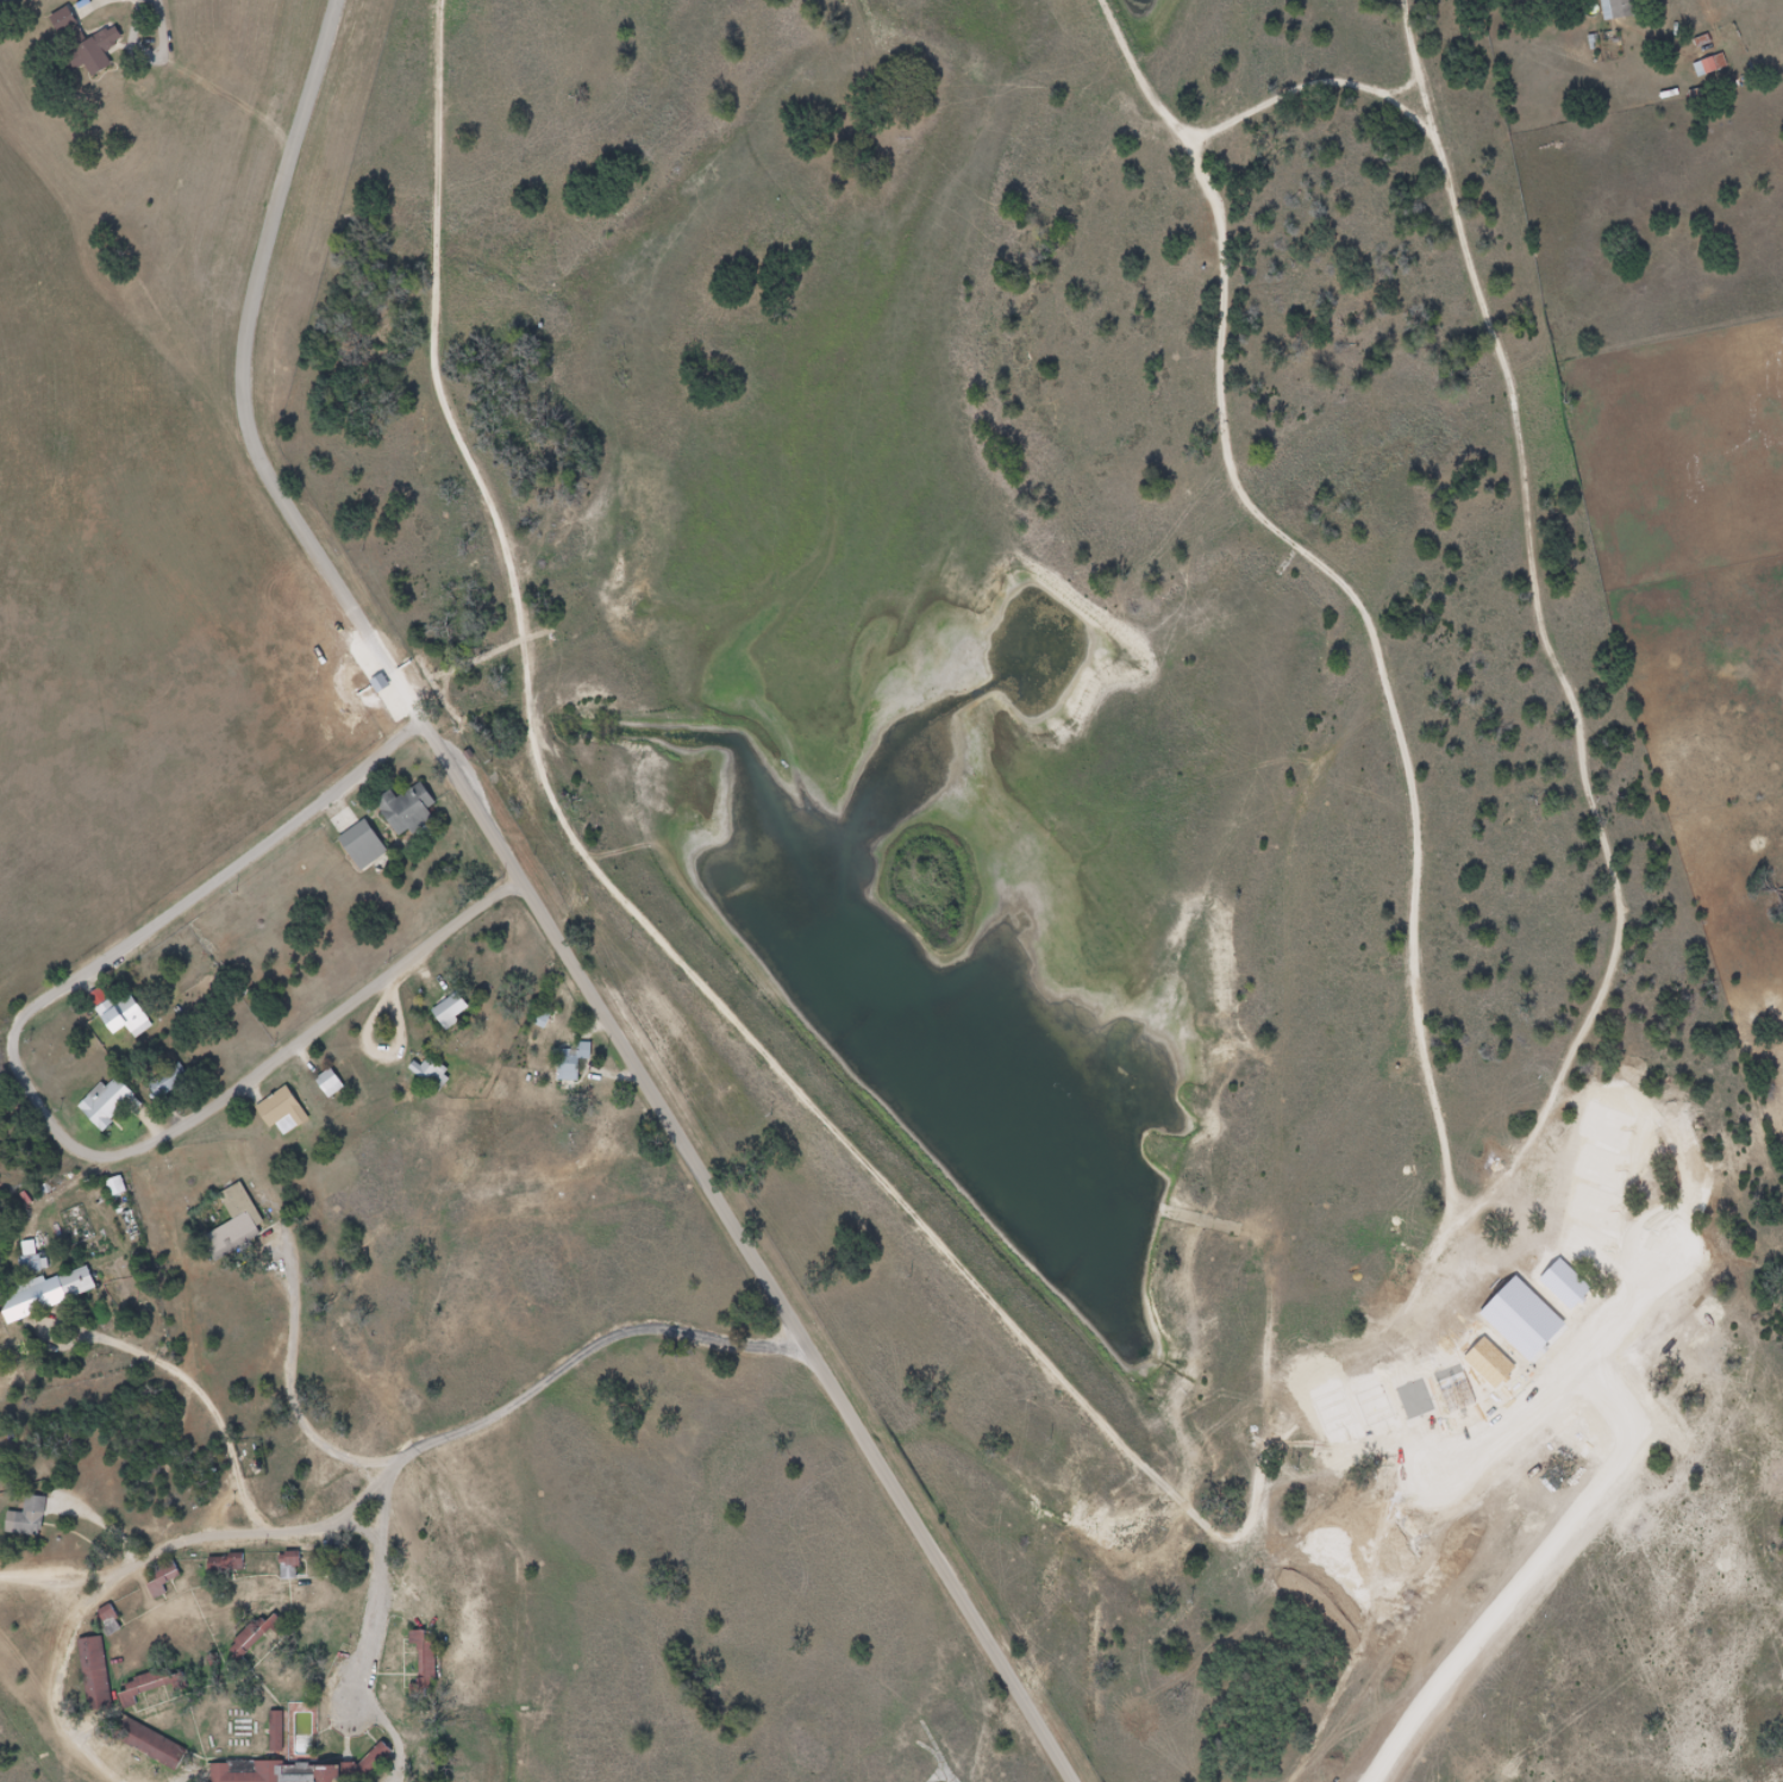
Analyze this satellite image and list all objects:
road: (93, 7)
building: (1612, 10)
road: (158, 44)
building: (82, 45)
building: (1704, 65)
road: (242, 380)
building: (401, 809)
building: (358, 845)
road: (146, 932)
building: (445, 1012)
building: (125, 1015)
road: (327, 1020)
building: (565, 1062)
building: (426, 1075)
building: (333, 1083)
building: (111, 1103)
building: (287, 1113)
building: (118, 1187)
road: (763, 1245)
building: (80, 1282)
road: (162, 1367)
road: (286, 1382)
road: (413, 1452)
building: (165, 1581)
building: (428, 1656)
road: (58, 1692)
building: (134, 1694)
building: (157, 1745)
building: (270, 1772)

